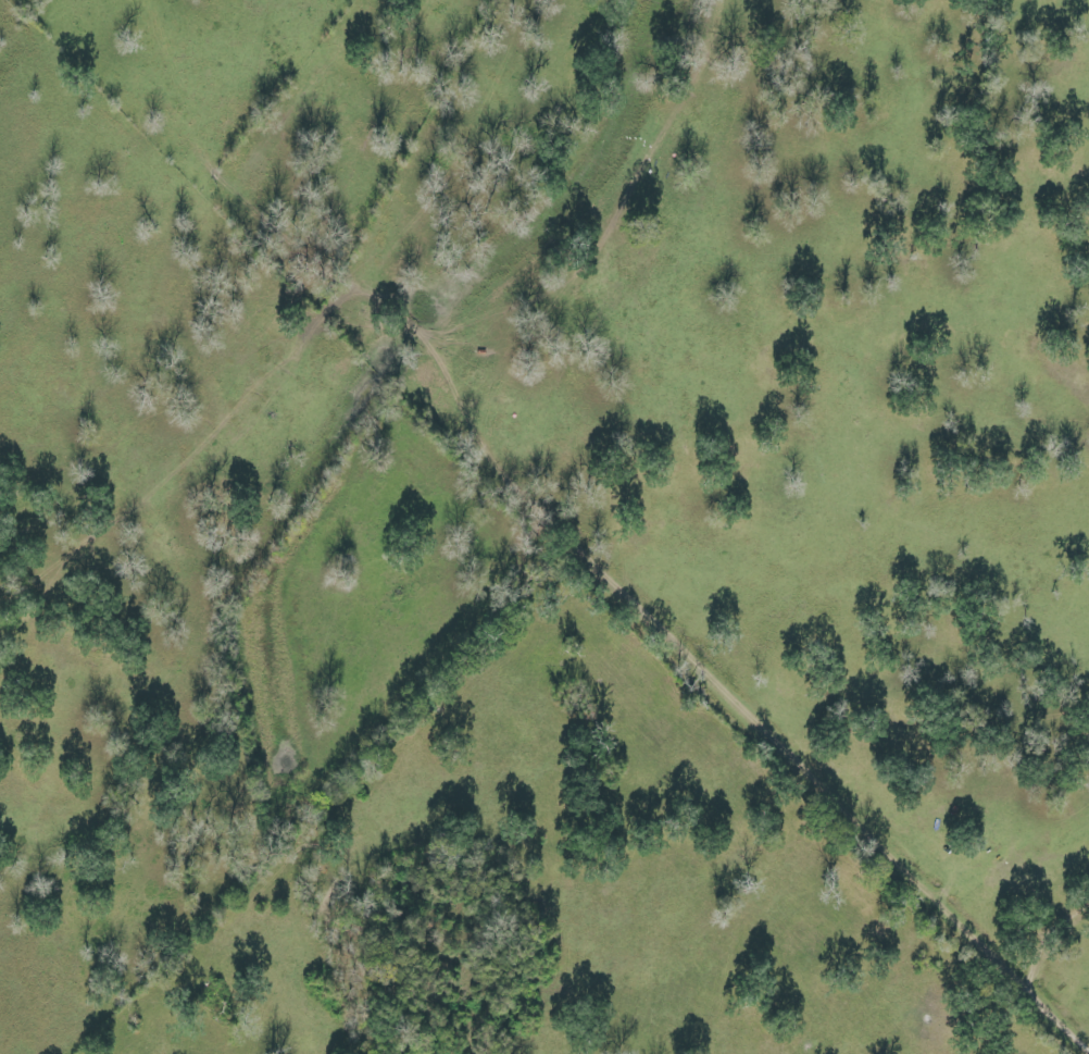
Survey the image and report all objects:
road: (821, 789)

